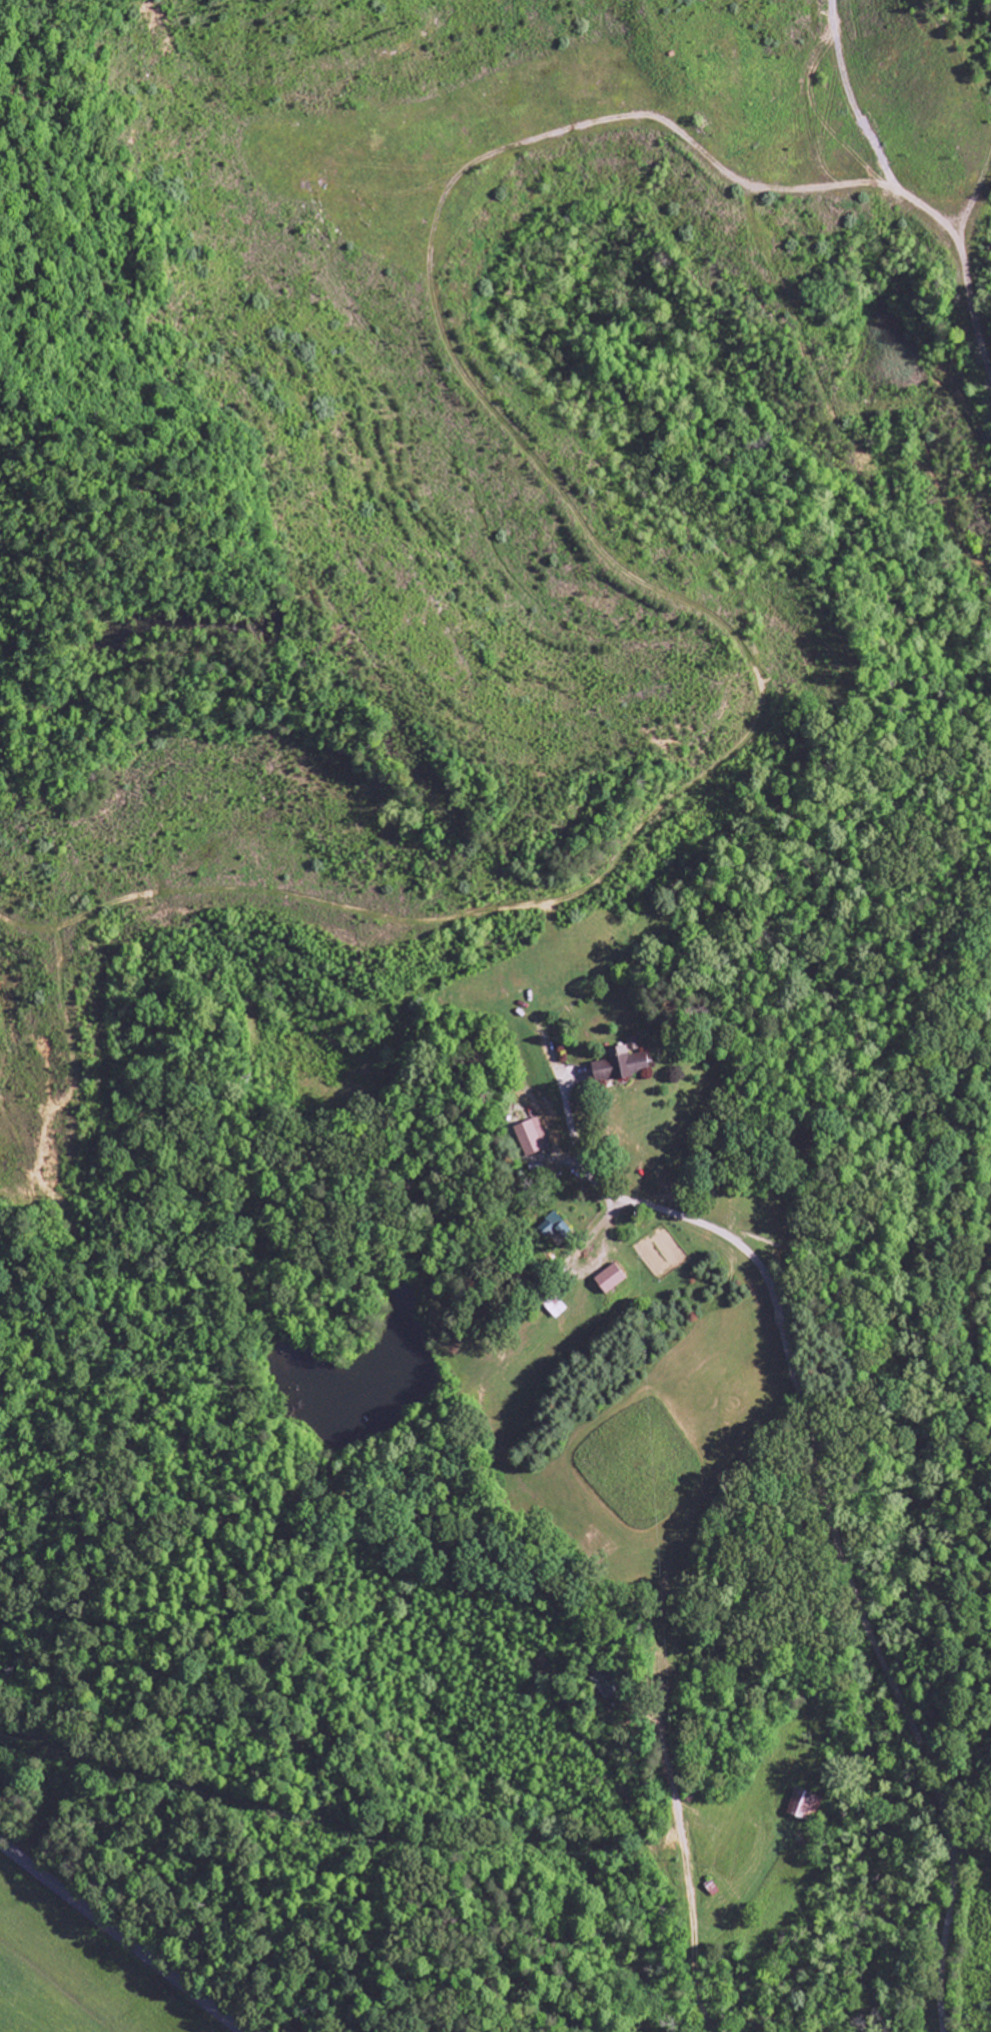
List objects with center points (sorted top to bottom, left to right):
building: (621, 1068)
building: (530, 1138)
building: (549, 1225)
building: (610, 1279)
building: (555, 1308)
building: (805, 1807)
road: (119, 1936)

